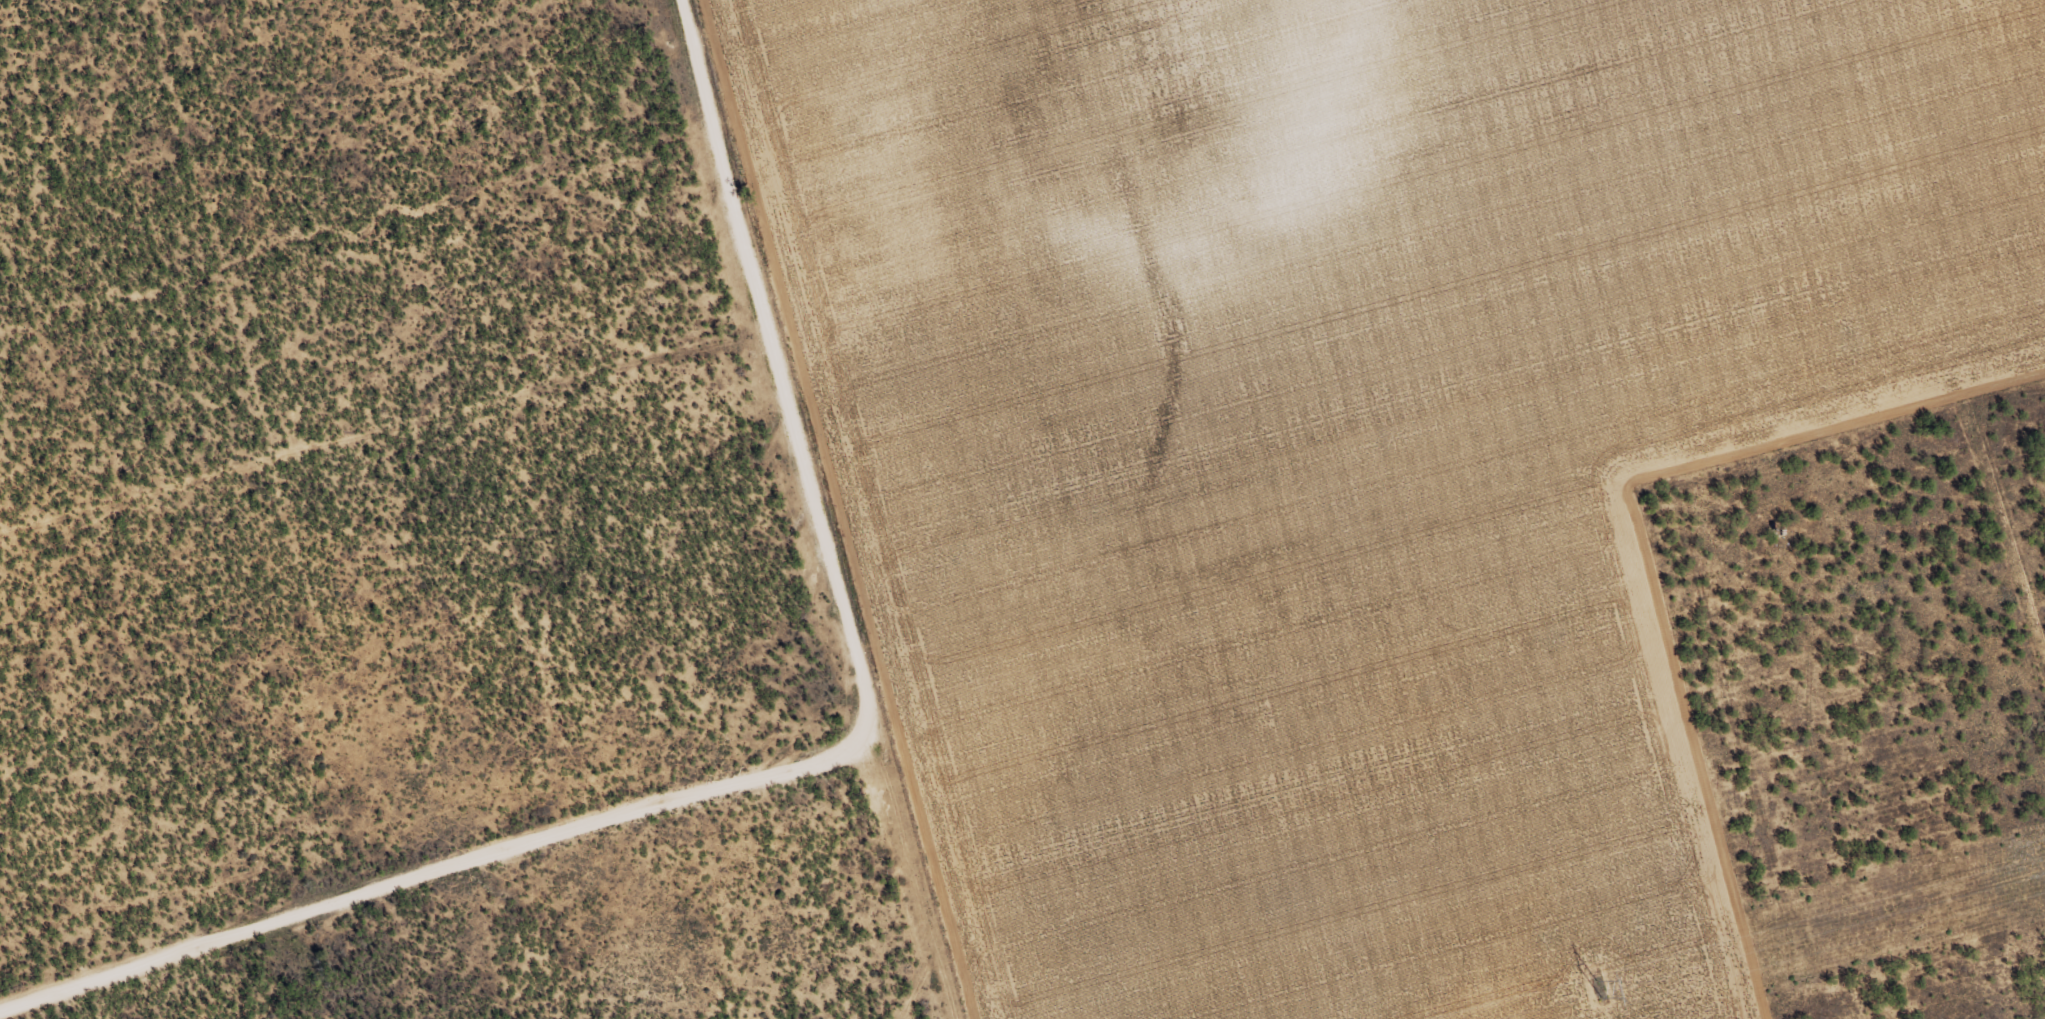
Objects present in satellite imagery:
power tower: (1596, 989)

